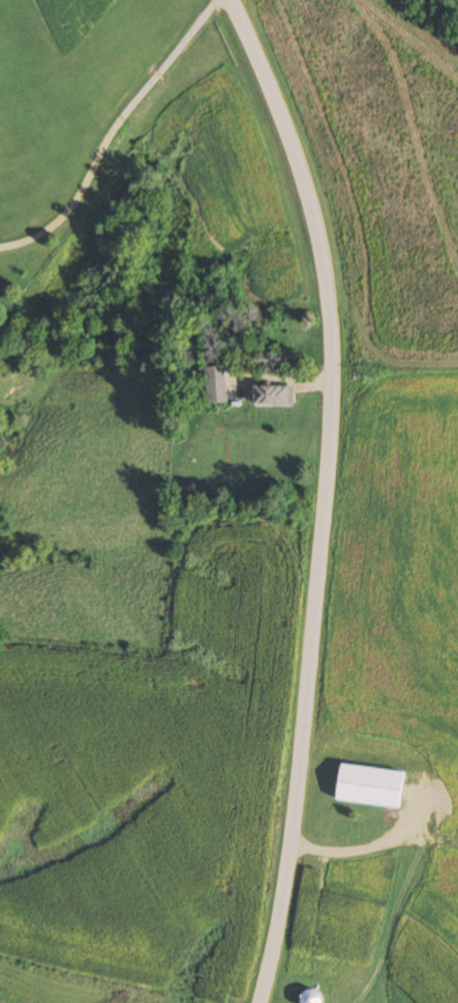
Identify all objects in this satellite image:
road: (112, 133)
building: (216, 385)
building: (273, 396)
road: (323, 495)
building: (371, 787)
building: (313, 996)

